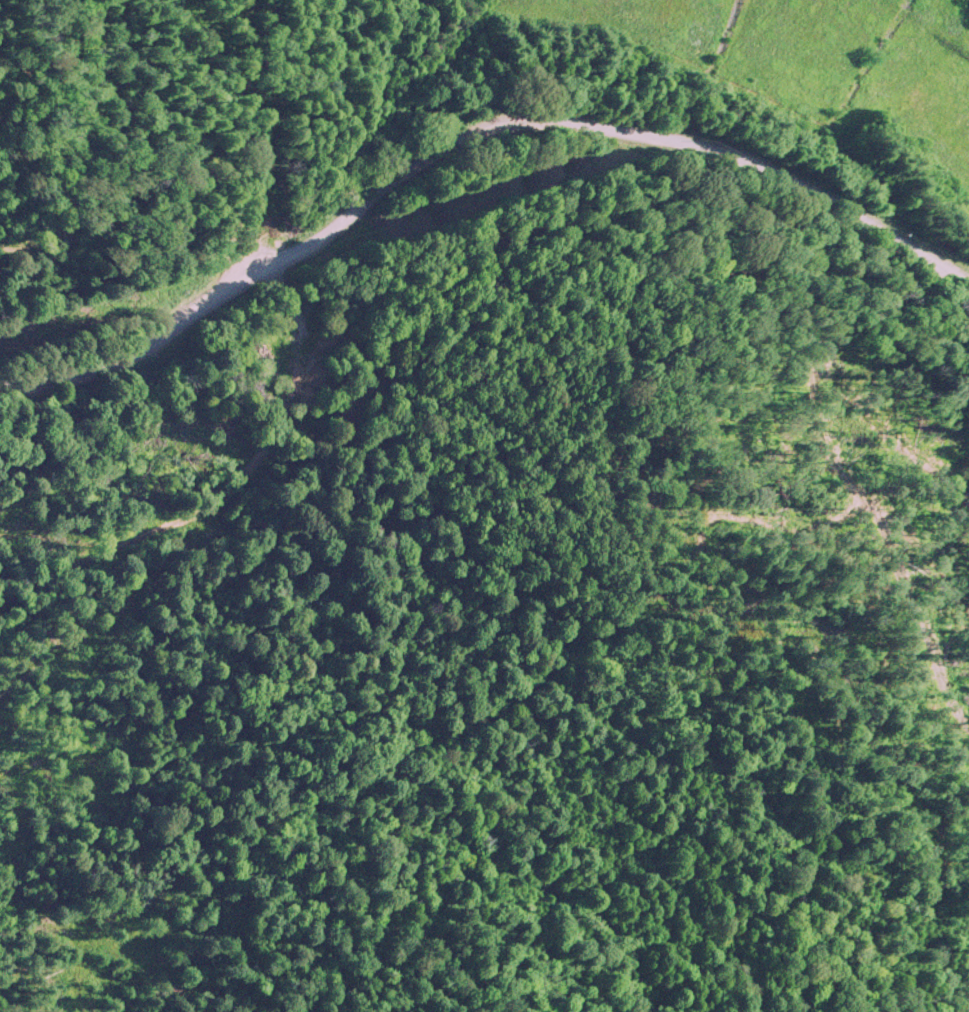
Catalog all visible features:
road: (561, 119)
railway: (667, 126)
railway: (655, 230)
road: (93, 368)
railway: (205, 389)
railway: (197, 534)

